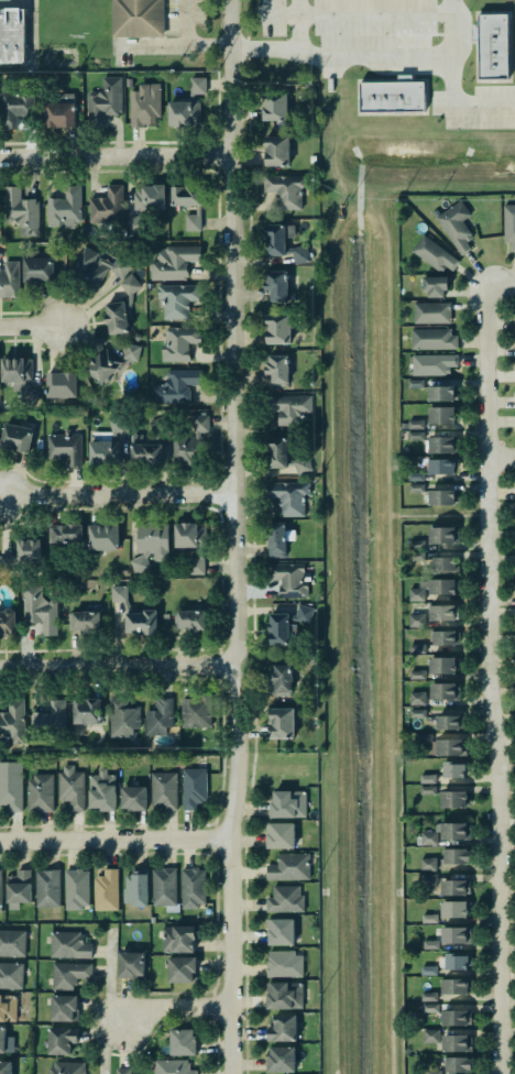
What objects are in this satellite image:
building: (136, 18)
road: (298, 25)
building: (11, 31)
road: (190, 37)
road: (29, 45)
building: (491, 45)
road: (364, 55)
building: (391, 96)
building: (105, 98)
building: (143, 103)
building: (13, 105)
building: (186, 105)
building: (274, 107)
building: (58, 111)
building: (276, 150)
road: (114, 154)
building: (285, 187)
building: (186, 196)
building: (150, 198)
road: (342, 198)
building: (106, 205)
building: (20, 209)
building: (65, 209)
building: (191, 222)
road: (383, 223)
building: (453, 223)
building: (134, 224)
building: (508, 224)
building: (283, 243)
building: (432, 253)
building: (174, 262)
building: (98, 267)
building: (39, 270)
building: (9, 280)
building: (276, 284)
building: (434, 285)
road: (500, 285)
building: (177, 298)
building: (119, 307)
building: (431, 313)
building: (514, 322)
road: (29, 327)
building: (277, 327)
building: (432, 339)
building: (177, 343)
building: (514, 349)
building: (109, 362)
building: (431, 363)
building: (277, 370)
building: (18, 377)
building: (62, 384)
building: (415, 384)
building: (175, 385)
building: (440, 393)
road: (386, 396)
building: (514, 401)
building: (289, 407)
building: (440, 415)
building: (415, 424)
building: (415, 436)
building: (14, 437)
building: (190, 442)
building: (106, 445)
building: (146, 445)
building: (441, 445)
building: (64, 446)
building: (283, 456)
road: (501, 456)
building: (440, 465)
building: (416, 476)
road: (331, 480)
building: (414, 486)
road: (118, 494)
building: (289, 497)
building: (440, 497)
road: (431, 514)
building: (64, 533)
building: (188, 534)
building: (442, 535)
building: (103, 537)
road: (232, 537)
building: (275, 538)
building: (150, 544)
building: (23, 552)
building: (416, 556)
building: (443, 565)
building: (289, 580)
building: (431, 588)
building: (119, 594)
building: (40, 611)
building: (442, 612)
building: (416, 620)
building: (190, 621)
building: (7, 622)
building: (86, 622)
building: (141, 622)
building: (285, 624)
building: (443, 637)
building: (417, 648)
building: (442, 665)
road: (116, 666)
building: (416, 673)
building: (280, 679)
road: (486, 680)
building: (443, 690)
building: (417, 699)
building: (87, 711)
building: (196, 713)
building: (418, 714)
building: (158, 715)
building: (122, 717)
building: (12, 720)
building: (48, 722)
building: (448, 722)
building: (281, 723)
building: (423, 737)
building: (450, 746)
building: (454, 769)
building: (428, 779)
building: (11, 786)
building: (72, 787)
building: (193, 788)
building: (101, 790)
building: (427, 790)
building: (164, 791)
building: (40, 792)
road: (390, 793)
building: (133, 798)
building: (452, 799)
building: (288, 804)
building: (456, 831)
building: (281, 835)
building: (429, 839)
road: (112, 841)
building: (456, 856)
building: (428, 864)
building: (289, 867)
building: (428, 880)
building: (163, 886)
building: (18, 887)
building: (191, 887)
building: (453, 887)
building: (46, 888)
building: (76, 888)
building: (105, 890)
building: (134, 890)
building: (0, 897)
building: (284, 898)
building: (453, 909)
road: (331, 911)
building: (429, 919)
building: (281, 932)
building: (456, 935)
building: (177, 939)
building: (12, 942)
building: (431, 944)
building: (69, 945)
building: (457, 962)
building: (285, 964)
building: (131, 965)
building: (180, 969)
building: (428, 971)
building: (11, 975)
building: (69, 975)
building: (454, 986)
building: (285, 996)
building: (429, 997)
road: (110, 1006)
building: (8, 1007)
building: (63, 1008)
building: (429, 1008)
road: (173, 1009)
building: (453, 1015)
building: (283, 1028)
building: (431, 1037)
building: (61, 1040)
building: (6, 1042)
building: (180, 1042)
building: (457, 1043)
building: (280, 1060)
building: (456, 1064)
building: (172, 1066)
building: (6, 1067)
building: (66, 1067)
building: (121, 1071)
building: (432, 1072)

